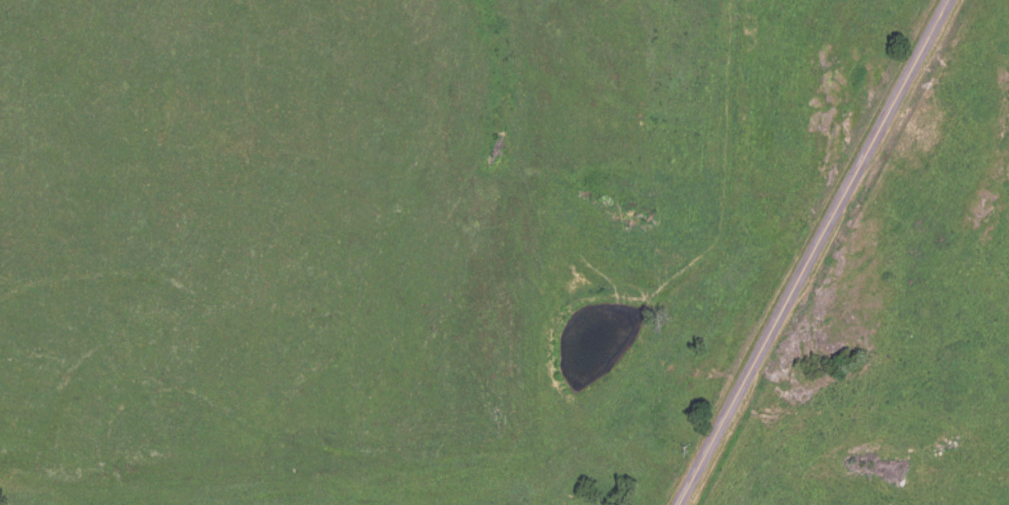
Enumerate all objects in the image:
road: (813, 252)

